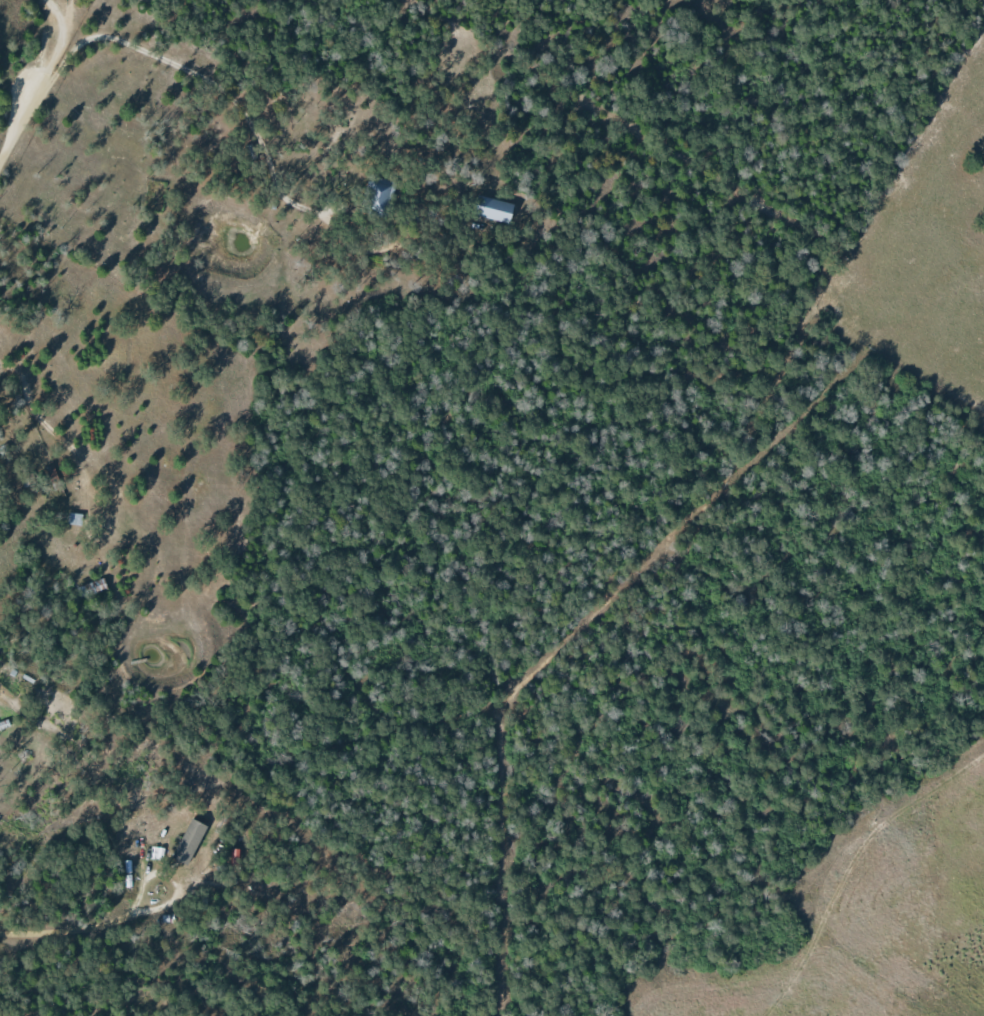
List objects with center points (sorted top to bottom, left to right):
road: (49, 38)
road: (220, 83)
road: (24, 120)
building: (377, 195)
building: (492, 209)
building: (73, 519)
building: (188, 841)
road: (88, 925)

